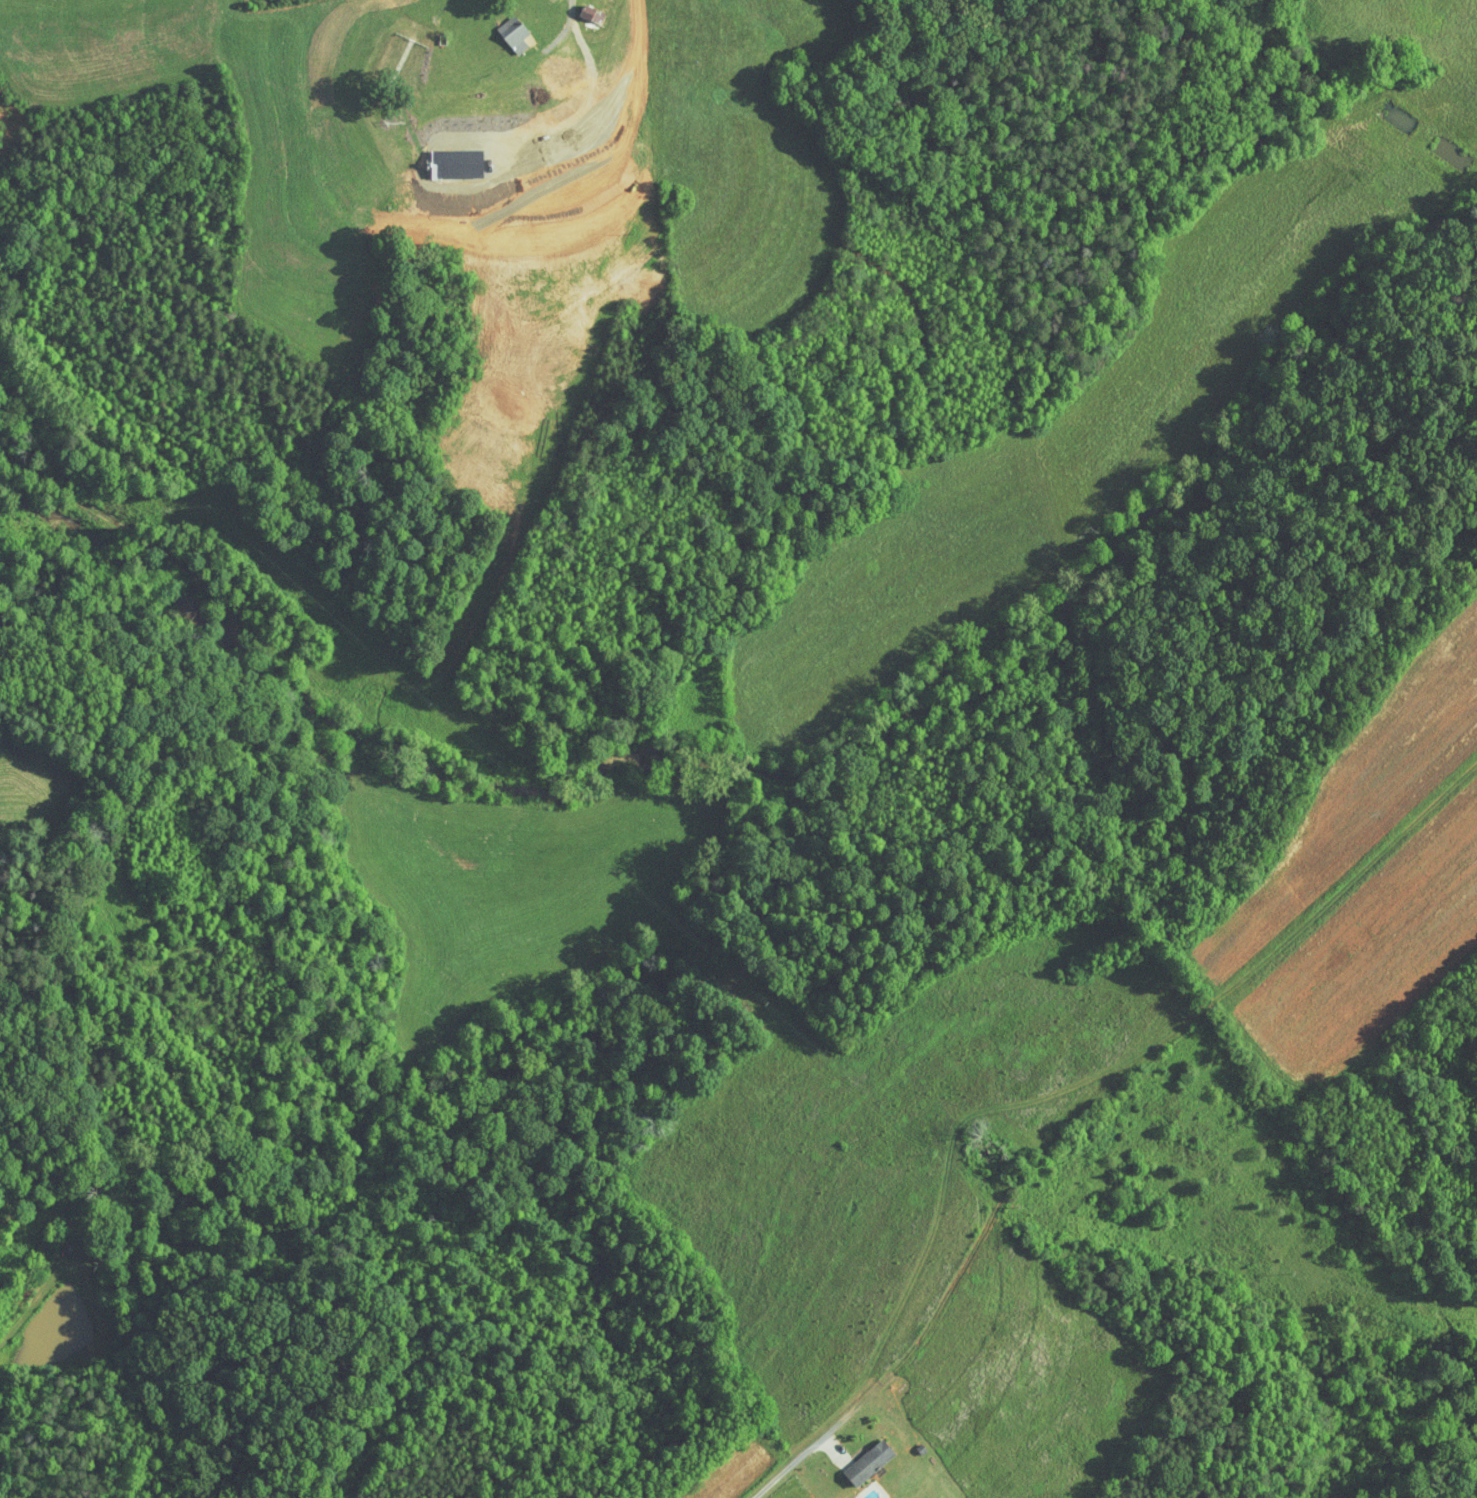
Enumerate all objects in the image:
building: (501, 32)
road: (1093, 1113)
building: (852, 1455)

